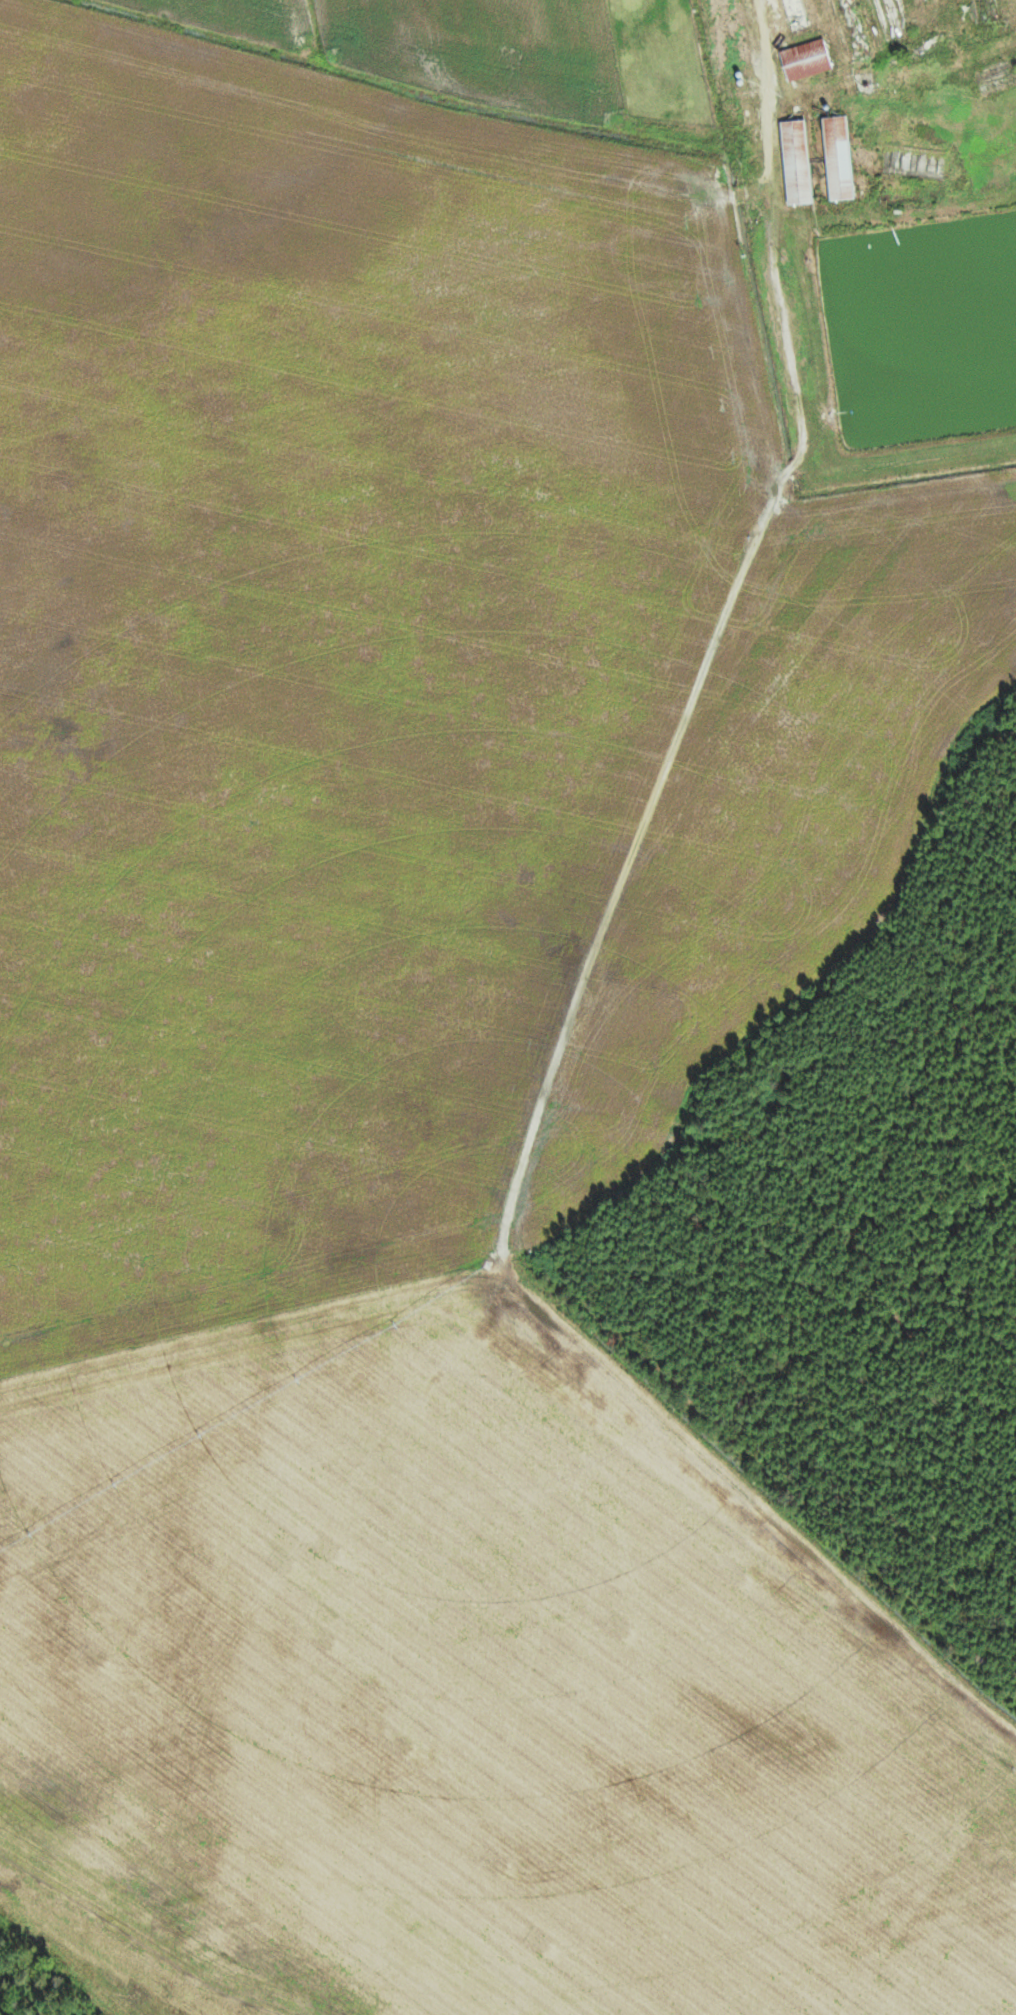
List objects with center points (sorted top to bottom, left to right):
building: (795, 15)
building: (856, 29)
building: (731, 33)
building: (945, 37)
building: (807, 61)
building: (839, 160)
building: (797, 163)

